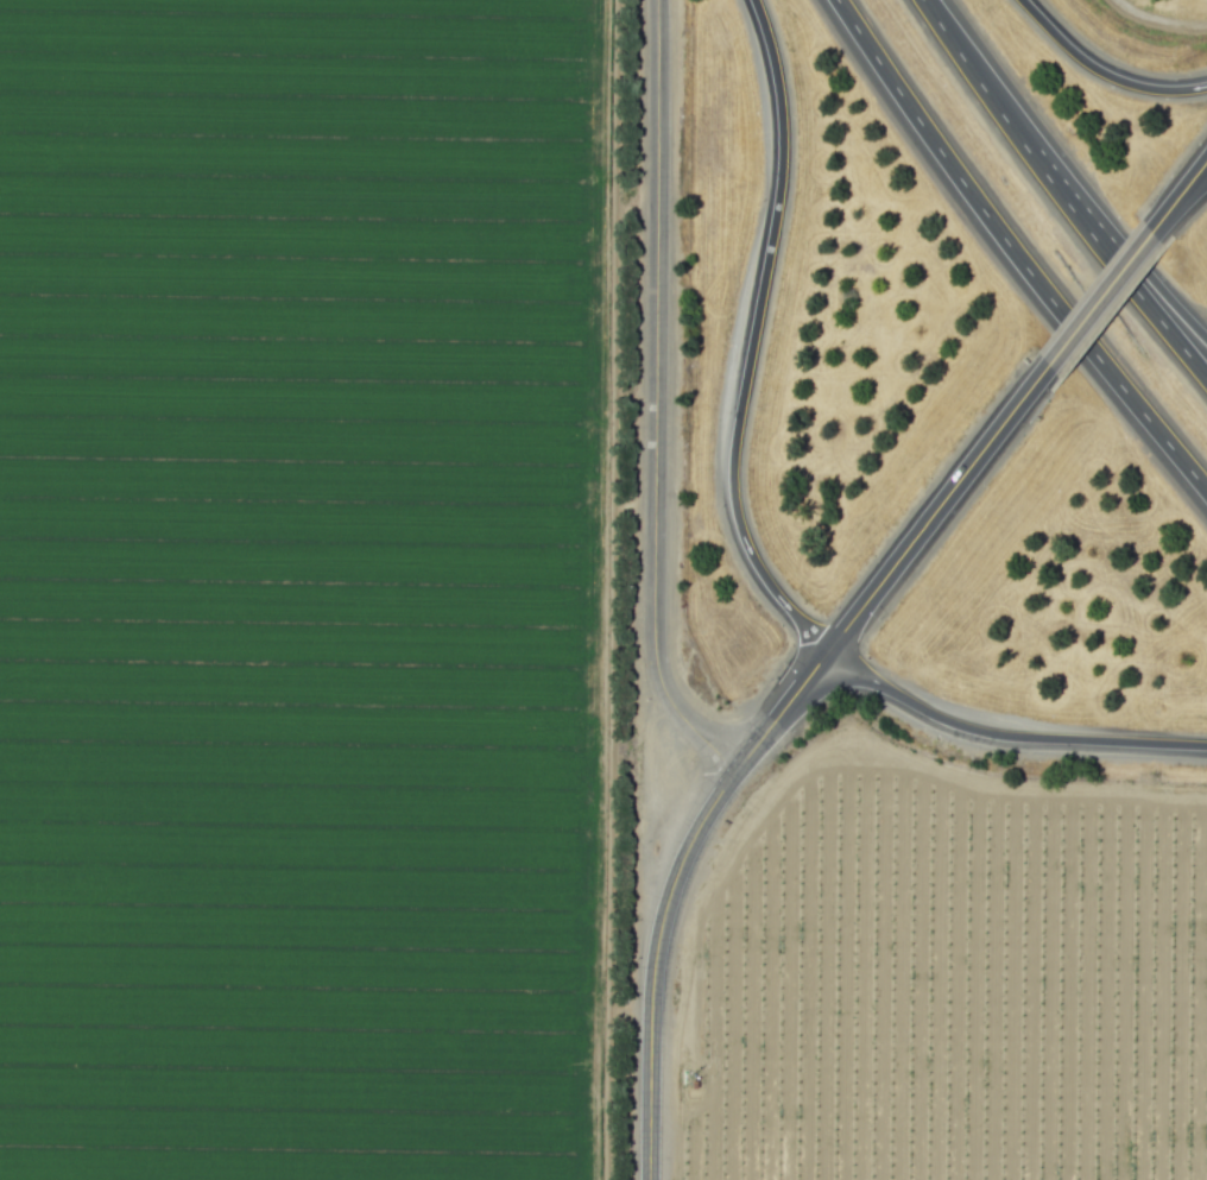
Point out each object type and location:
road: (1102, 71)
road: (1195, 177)
road: (1195, 187)
road: (1059, 194)
road: (1168, 213)
road: (1013, 252)
road: (1143, 270)
road: (1099, 301)
road: (751, 339)
road: (655, 399)
road: (937, 509)
street lamp: (782, 663)
road: (782, 709)
road: (1006, 736)
road: (653, 965)

